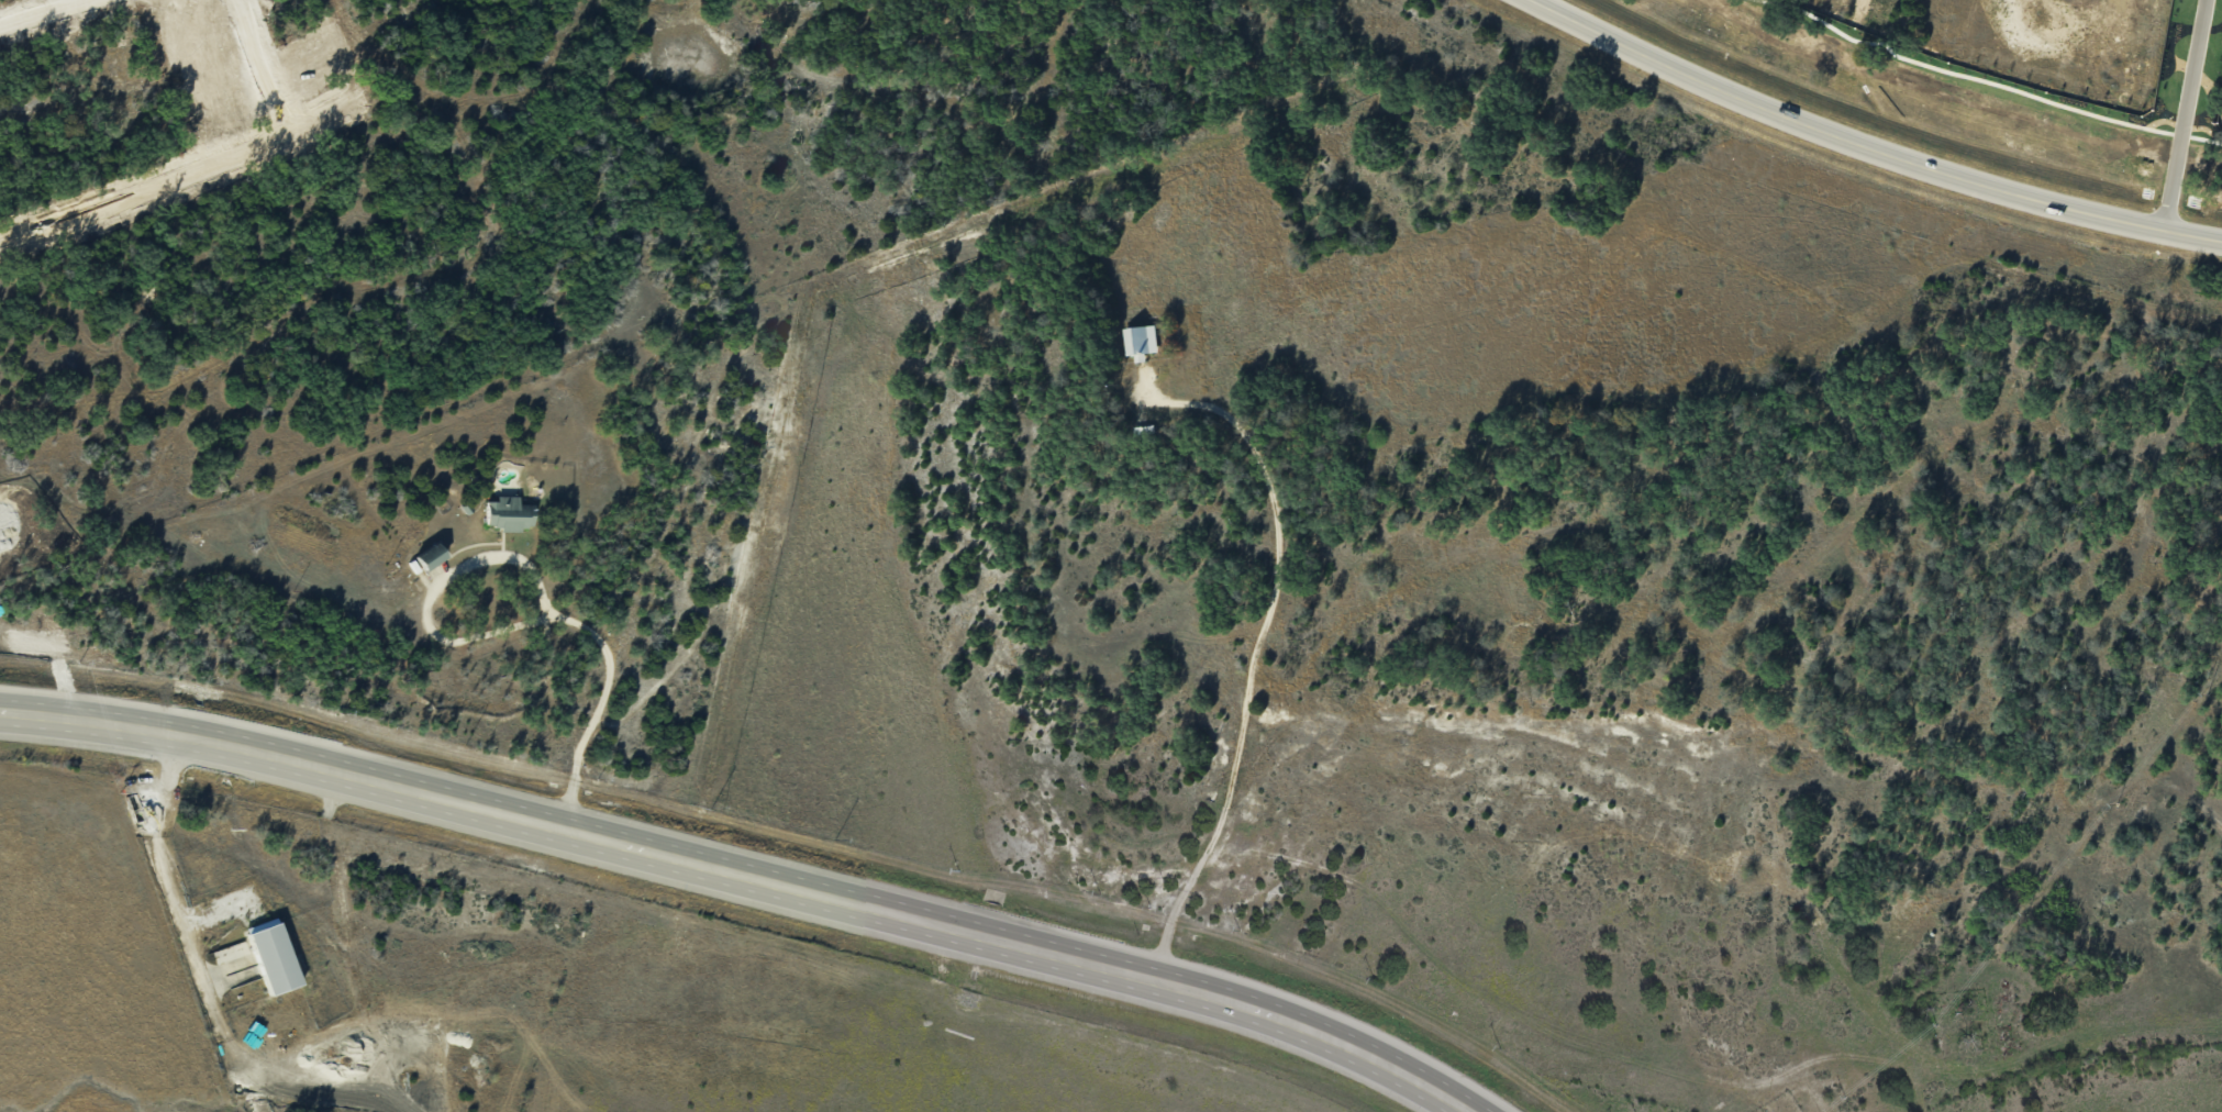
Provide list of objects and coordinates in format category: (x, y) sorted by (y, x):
road: (38, 12)
road: (265, 66)
road: (2186, 113)
road: (1870, 145)
road: (241, 158)
road: (481, 174)
building: (1140, 341)
road: (269, 376)
building: (508, 513)
road: (2207, 544)
building: (430, 556)
road: (2148, 567)
road: (1254, 655)
road: (609, 658)
road: (1667, 663)
road: (979, 713)
road: (1913, 736)
road: (2079, 752)
road: (2148, 830)
road: (162, 867)
road: (745, 876)
building: (273, 955)

